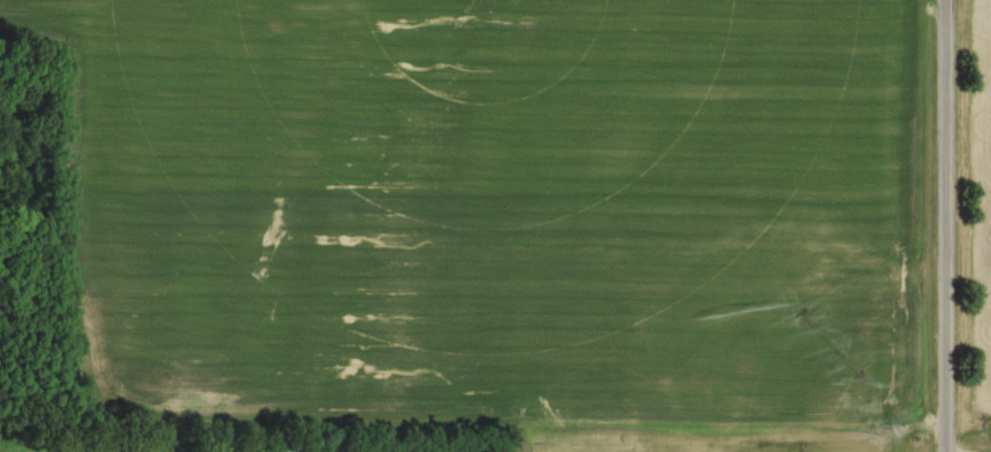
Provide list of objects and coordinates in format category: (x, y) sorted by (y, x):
crop: (979, 211)
road: (945, 226)
building: (295, 451)

